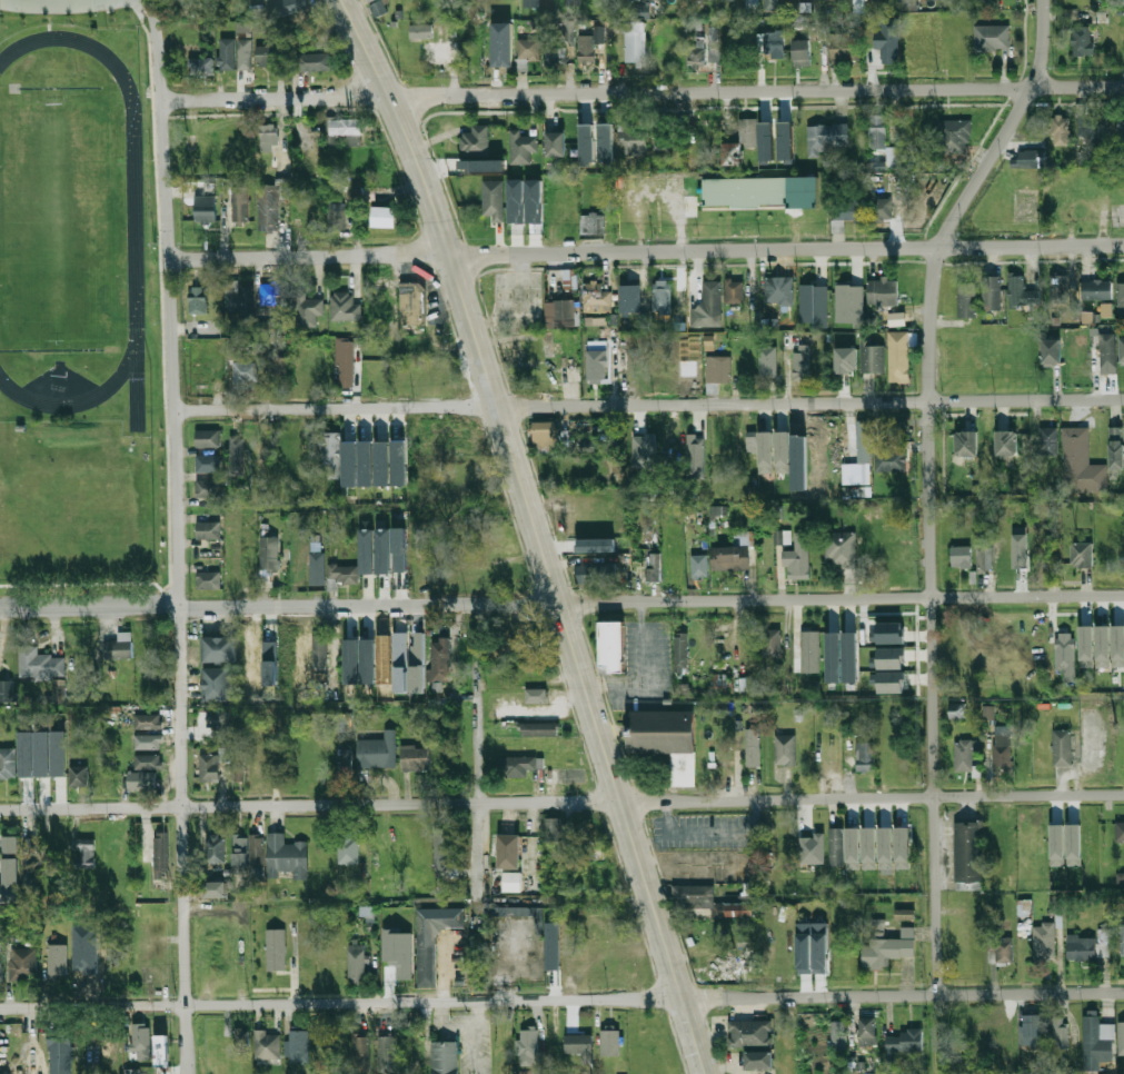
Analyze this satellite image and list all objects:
building: (183, 2)
building: (573, 2)
road: (63, 3)
building: (531, 3)
building: (769, 4)
building: (908, 4)
building: (290, 7)
building: (378, 8)
building: (643, 8)
building: (513, 9)
building: (765, 23)
building: (568, 30)
building: (420, 31)
building: (992, 38)
building: (1083, 40)
building: (635, 42)
building: (501, 43)
building: (714, 43)
building: (773, 44)
building: (889, 44)
building: (844, 47)
building: (587, 48)
building: (695, 50)
building: (526, 52)
building: (803, 52)
building: (232, 56)
building: (267, 56)
building: (556, 58)
building: (315, 61)
building: (200, 66)
road: (643, 92)
building: (1087, 123)
building: (345, 127)
building: (1120, 127)
building: (1061, 130)
building: (746, 131)
building: (778, 131)
building: (877, 132)
building: (662, 136)
building: (953, 136)
building: (633, 137)
building: (269, 138)
building: (825, 138)
building: (475, 141)
building: (586, 142)
building: (605, 142)
building: (765, 143)
building: (557, 145)
building: (523, 148)
building: (732, 153)
building: (889, 159)
building: (1025, 159)
building: (480, 165)
building: (745, 192)
building: (369, 196)
building: (493, 199)
building: (516, 200)
building: (534, 200)
building: (240, 205)
building: (269, 208)
building: (205, 209)
building: (848, 209)
building: (881, 210)
building: (385, 217)
building: (335, 219)
park: (53, 220)
track: (132, 223)
building: (591, 225)
road: (646, 251)
building: (568, 279)
building: (1058, 289)
building: (735, 290)
building: (779, 290)
building: (1096, 290)
building: (883, 291)
building: (240, 294)
building: (275, 294)
building: (992, 294)
building: (1022, 294)
building: (630, 295)
building: (662, 295)
building: (596, 297)
building: (1121, 299)
building: (967, 300)
building: (197, 304)
building: (412, 304)
building: (709, 304)
building: (849, 304)
building: (814, 305)
building: (344, 307)
building: (569, 308)
building: (1106, 309)
building: (308, 310)
building: (1087, 317)
building: (595, 321)
building: (233, 349)
building: (1121, 349)
building: (1051, 351)
building: (1107, 354)
building: (871, 357)
building: (898, 357)
building: (845, 359)
building: (768, 361)
building: (347, 364)
building: (597, 365)
building: (802, 366)
building: (746, 368)
building: (718, 369)
building: (278, 370)
building: (246, 374)
building: (712, 388)
road: (649, 406)
building: (891, 427)
building: (458, 434)
building: (544, 434)
building: (208, 438)
building: (1047, 439)
building: (863, 441)
building: (1006, 442)
building: (966, 444)
building: (587, 445)
building: (696, 446)
building: (1115, 448)
building: (330, 449)
building: (762, 449)
building: (641, 451)
building: (782, 451)
building: (237, 456)
building: (1075, 457)
building: (891, 459)
building: (366, 463)
building: (381, 463)
building: (398, 463)
building: (208, 464)
building: (349, 464)
building: (476, 479)
road: (927, 484)
building: (861, 486)
building: (208, 488)
building: (718, 509)
building: (208, 530)
building: (246, 533)
road: (533, 533)
road: (176, 535)
building: (782, 537)
building: (596, 545)
building: (495, 546)
building: (839, 547)
building: (1019, 547)
building: (399, 549)
building: (270, 551)
building: (367, 551)
building: (384, 551)
building: (735, 553)
building: (1082, 554)
building: (961, 557)
building: (982, 560)
building: (699, 566)
building: (797, 567)
building: (654, 568)
building: (317, 570)
building: (593, 573)
building: (344, 574)
building: (208, 579)
road: (561, 603)
building: (520, 632)
building: (889, 633)
building: (1067, 639)
building: (772, 642)
building: (680, 644)
building: (1117, 645)
building: (611, 646)
building: (1086, 646)
building: (1102, 646)
building: (119, 647)
building: (833, 647)
building: (852, 647)
building: (220, 649)
building: (807, 649)
building: (320, 652)
building: (889, 658)
building: (958, 659)
building: (351, 660)
building: (368, 660)
building: (441, 660)
building: (400, 662)
building: (270, 663)
building: (40, 664)
building: (418, 664)
road: (643, 675)
building: (891, 682)
building: (218, 684)
building: (7, 692)
building: (58, 692)
building: (536, 696)
building: (958, 712)
building: (147, 722)
building: (219, 724)
building: (539, 729)
building: (666, 740)
building: (148, 742)
building: (753, 747)
building: (1062, 748)
building: (785, 749)
building: (1002, 749)
building: (377, 750)
building: (42, 753)
building: (802, 753)
building: (964, 755)
building: (415, 757)
building: (865, 757)
building: (346, 758)
building: (257, 759)
building: (148, 762)
building: (8, 763)
building: (239, 765)
building: (517, 765)
building: (210, 767)
road: (476, 773)
building: (78, 775)
building: (142, 780)
road: (561, 802)
building: (554, 829)
building: (1120, 832)
building: (861, 837)
building: (819, 844)
building: (1073, 844)
building: (1056, 845)
building: (837, 846)
building: (348, 847)
building: (885, 847)
building: (902, 847)
building: (216, 848)
building: (239, 848)
building: (853, 848)
building: (868, 848)
building: (445, 849)
building: (510, 851)
building: (161, 852)
building: (86, 854)
building: (968, 855)
building: (256, 856)
building: (287, 856)
building: (28, 868)
building: (9, 869)
building: (603, 878)
building: (511, 881)
building: (213, 888)
building: (696, 895)
building: (739, 909)
building: (367, 911)
building: (520, 913)
building: (904, 914)
building: (155, 924)
building: (432, 938)
building: (1122, 941)
building: (1044, 942)
building: (1104, 943)
building: (812, 945)
building: (1082, 948)
building: (150, 949)
building: (888, 949)
building: (1001, 949)
building: (279, 957)
building: (391, 958)
building: (58, 959)
building: (357, 963)
building: (23, 964)
building: (724, 966)
building: (0, 972)
building: (151, 975)
road: (561, 1001)
building: (1032, 1030)
building: (868, 1032)
building: (750, 1033)
building: (1060, 1033)
building: (838, 1035)
building: (140, 1037)
road: (479, 1037)
building: (241, 1038)
building: (1122, 1038)
building: (610, 1042)
building: (904, 1042)
building: (1094, 1042)
building: (579, 1044)
building: (268, 1045)
building: (411, 1045)
building: (299, 1046)
building: (527, 1047)
building: (60, 1051)
building: (161, 1051)
building: (361, 1054)
building: (387, 1054)
building: (445, 1057)
building: (759, 1060)
building: (132, 1071)

